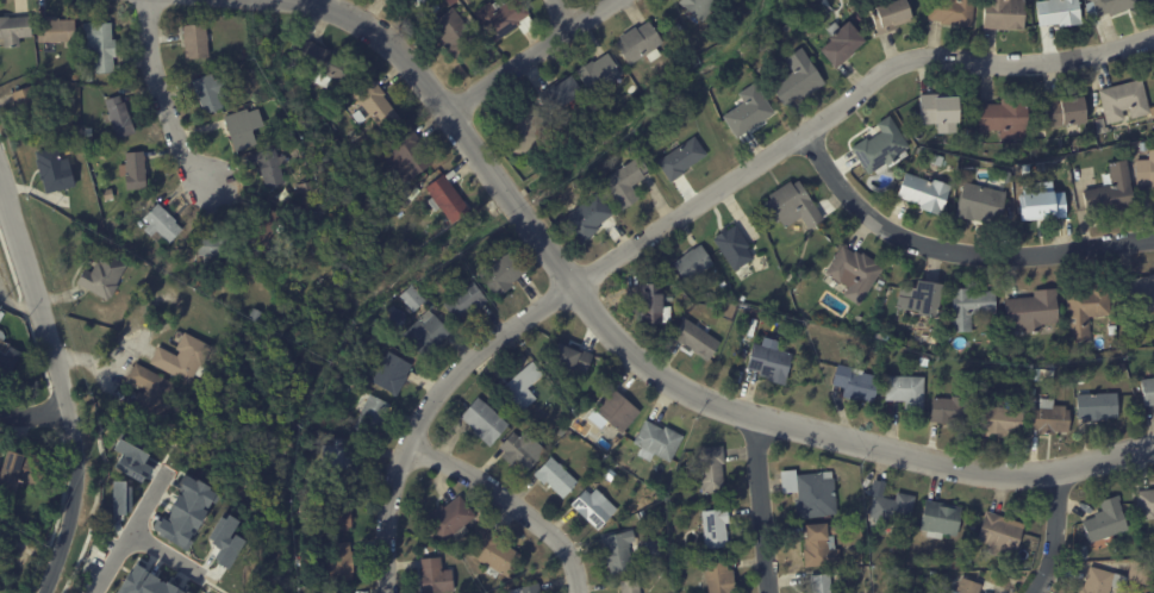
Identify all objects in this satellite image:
building: (450, 1)
building: (1149, 1)
building: (416, 2)
building: (1109, 6)
building: (432, 7)
building: (695, 7)
building: (950, 12)
building: (1058, 12)
building: (1003, 14)
road: (560, 15)
building: (890, 15)
building: (499, 18)
building: (52, 27)
building: (13, 29)
building: (676, 29)
building: (451, 32)
building: (193, 40)
building: (638, 44)
building: (841, 44)
building: (99, 45)
road: (530, 56)
building: (319, 62)
building: (597, 74)
building: (88, 77)
building: (797, 79)
building: (208, 92)
building: (557, 93)
building: (636, 93)
road: (164, 100)
building: (1123, 101)
building: (70, 102)
road: (843, 102)
building: (375, 104)
building: (29, 105)
building: (747, 111)
building: (940, 112)
building: (1065, 112)
building: (117, 116)
building: (1005, 118)
building: (241, 125)
building: (1102, 126)
building: (87, 131)
building: (525, 131)
building: (1040, 131)
building: (285, 135)
building: (969, 138)
building: (881, 148)
building: (1142, 148)
building: (1078, 149)
building: (921, 151)
building: (405, 156)
building: (680, 158)
building: (268, 164)
building: (52, 169)
building: (131, 169)
building: (1016, 171)
building: (1146, 171)
building: (1004, 174)
building: (624, 182)
building: (1111, 191)
building: (106, 193)
building: (923, 194)
building: (444, 196)
building: (978, 201)
building: (1040, 202)
building: (310, 205)
building: (792, 206)
building: (586, 218)
building: (158, 224)
building: (264, 225)
building: (212, 245)
building: (732, 248)
road: (955, 250)
building: (691, 263)
building: (501, 273)
building: (853, 273)
building: (100, 275)
building: (723, 285)
building: (1136, 291)
building: (411, 296)
building: (463, 299)
building: (742, 299)
road: (17, 300)
building: (919, 301)
building: (653, 305)
building: (968, 307)
building: (1085, 308)
building: (1031, 311)
building: (1, 314)
building: (252, 314)
building: (1112, 322)
building: (1111, 330)
building: (424, 331)
building: (0, 335)
building: (695, 338)
building: (568, 356)
building: (6, 357)
building: (180, 357)
building: (923, 362)
building: (768, 363)
road: (651, 370)
building: (389, 373)
road: (106, 374)
building: (1042, 375)
building: (854, 383)
building: (520, 385)
road: (60, 389)
building: (148, 392)
building: (905, 392)
building: (1148, 392)
building: (1096, 407)
building: (613, 410)
road: (33, 411)
building: (948, 411)
building: (368, 413)
road: (430, 413)
building: (1049, 418)
building: (482, 420)
building: (999, 423)
building: (656, 441)
building: (519, 449)
building: (131, 457)
building: (337, 461)
building: (710, 468)
building: (19, 470)
building: (615, 472)
building: (645, 474)
building: (555, 476)
building: (811, 491)
building: (119, 497)
building: (1144, 504)
road: (512, 505)
road: (762, 505)
building: (592, 506)
building: (892, 508)
building: (185, 511)
building: (335, 512)
building: (449, 518)
building: (938, 519)
building: (1105, 519)
building: (713, 526)
road: (130, 530)
building: (999, 532)
road: (1053, 532)
building: (224, 538)
building: (821, 543)
building: (653, 548)
building: (620, 550)
road: (166, 555)
building: (494, 555)
building: (886, 557)
building: (337, 561)
building: (955, 564)
building: (433, 575)
building: (944, 576)
building: (718, 578)
building: (1115, 578)
building: (144, 582)
building: (822, 582)
building: (629, 586)
building: (973, 586)
building: (525, 588)
building: (342, 591)

